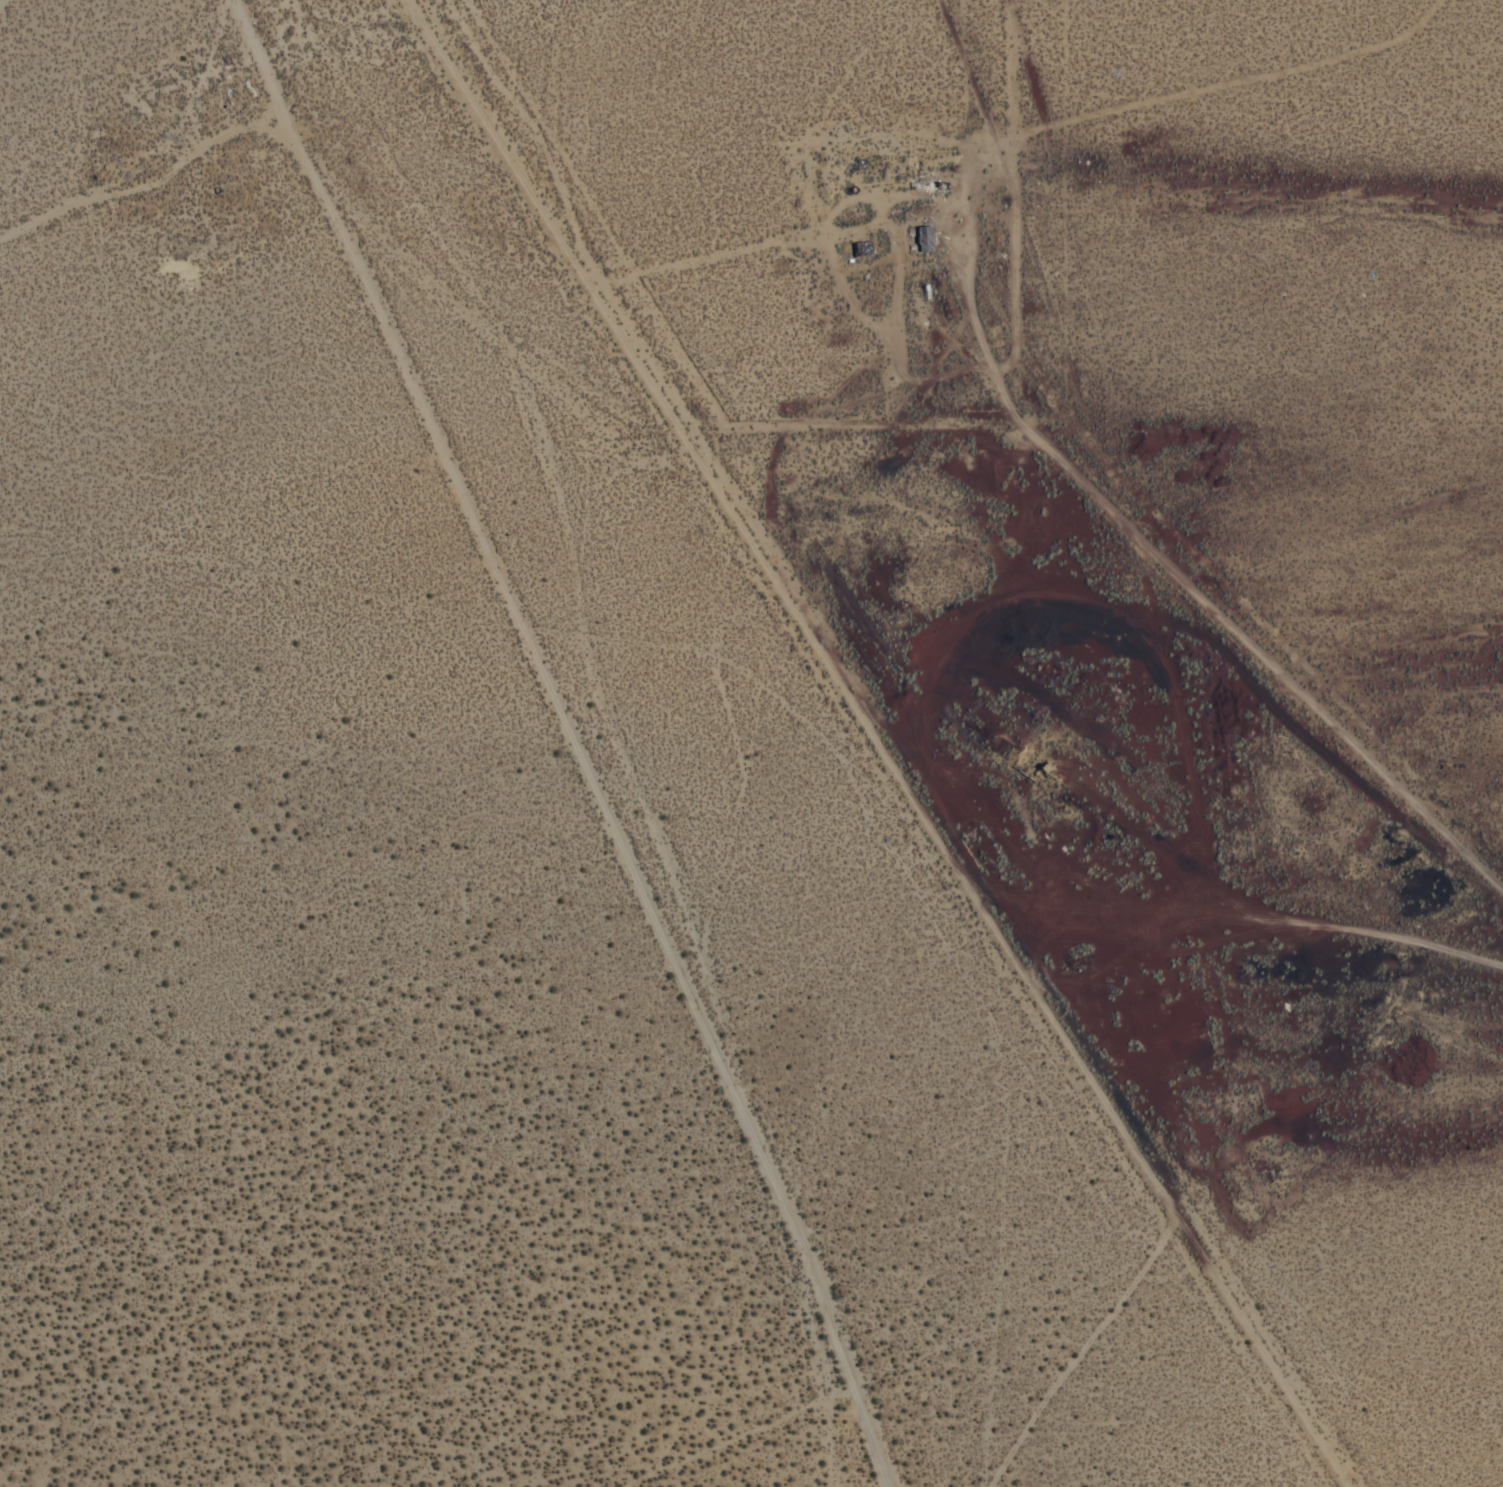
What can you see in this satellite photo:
road: (5, 5)
road: (152, 178)
building: (919, 236)
building: (861, 247)
road: (1223, 641)
road: (586, 737)
road: (1291, 918)
road: (1088, 1350)

